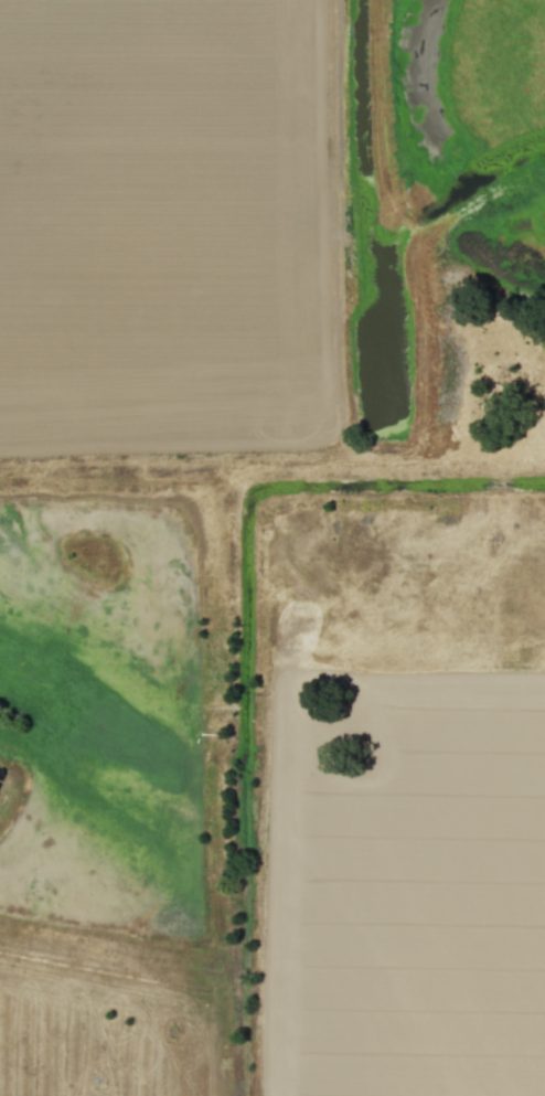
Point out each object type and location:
crop: (183, 214)
crop: (387, 871)

